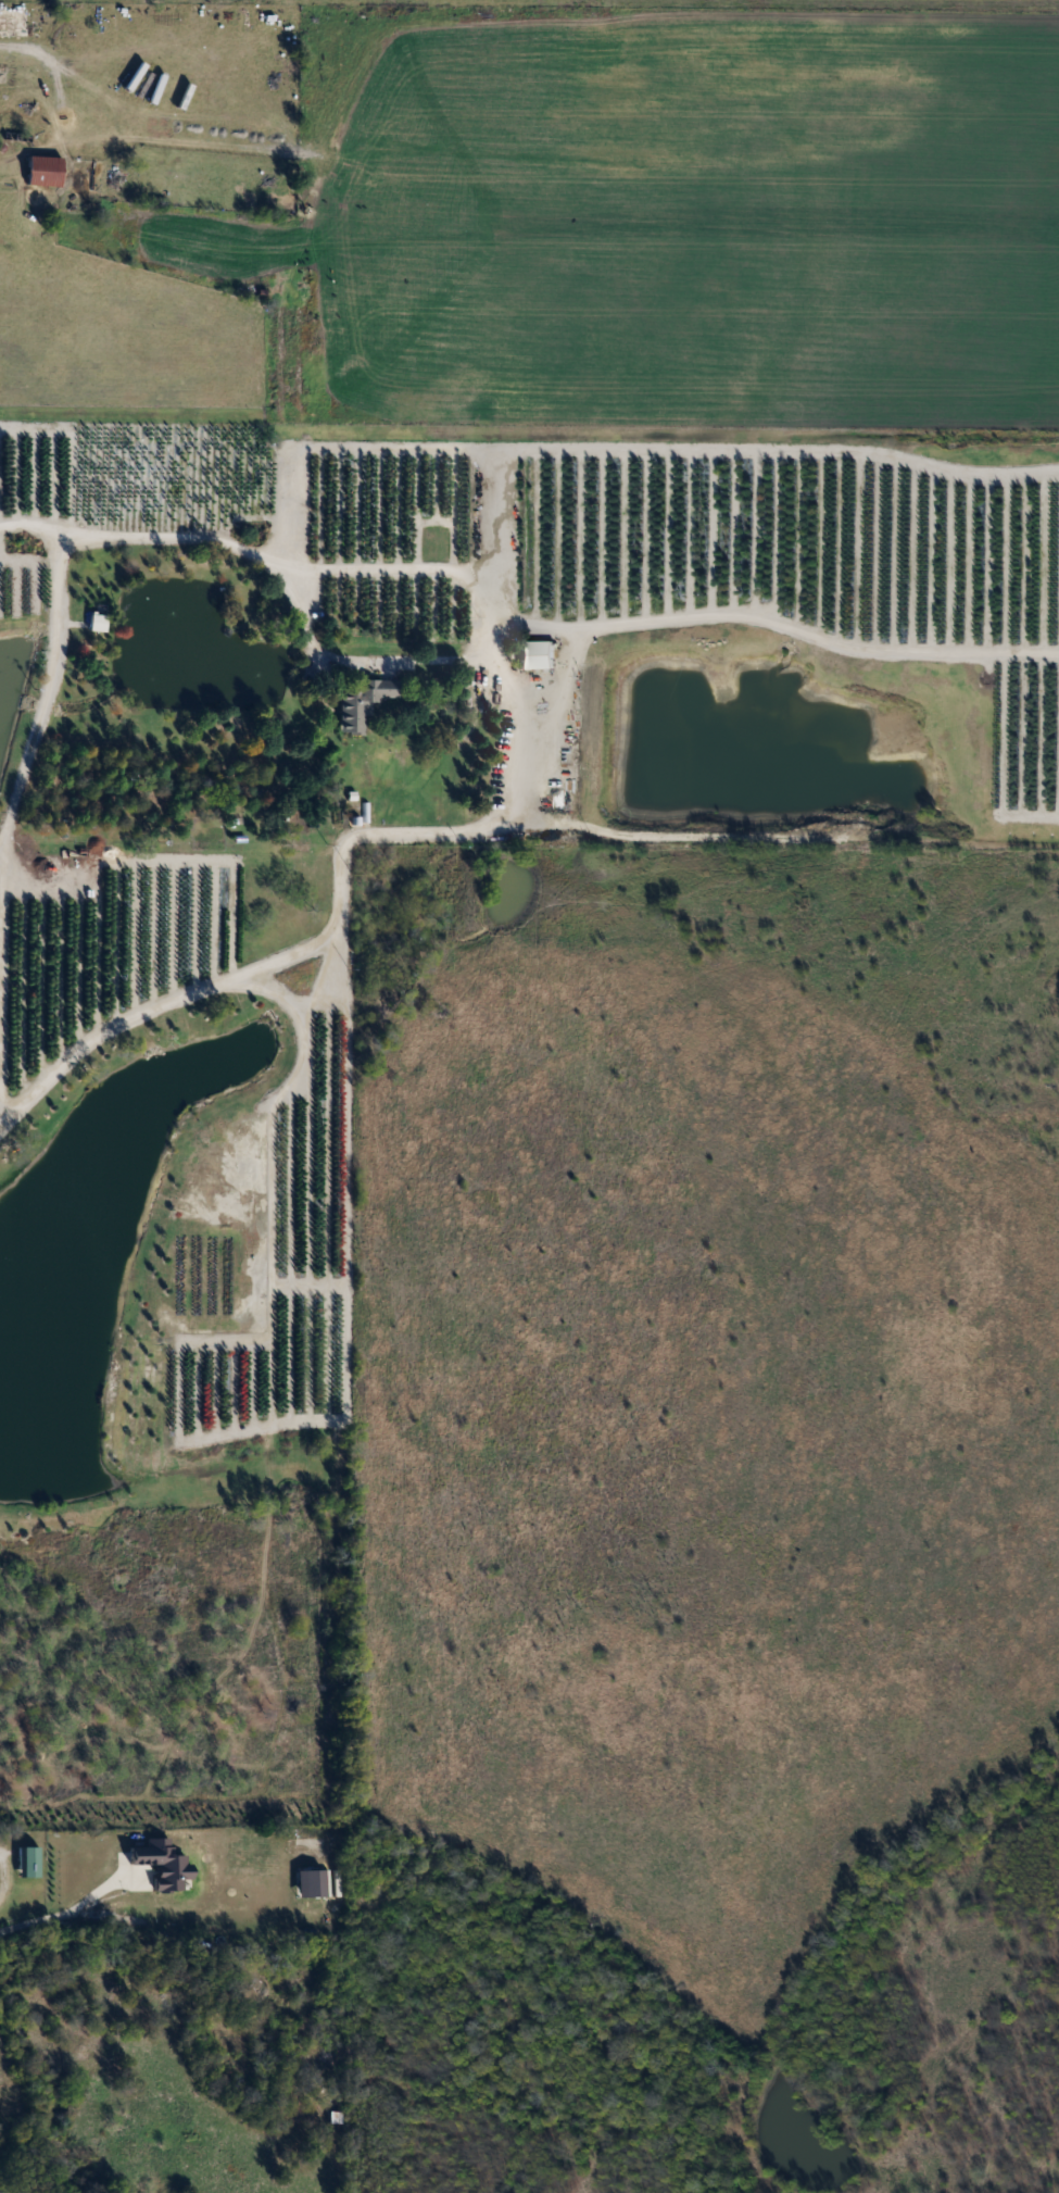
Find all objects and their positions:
road: (54, 76)
building: (13, 141)
road: (29, 524)
road: (480, 651)
road: (575, 653)
building: (532, 655)
road: (353, 662)
building: (363, 704)
building: (27, 1863)
road: (25, 1926)

